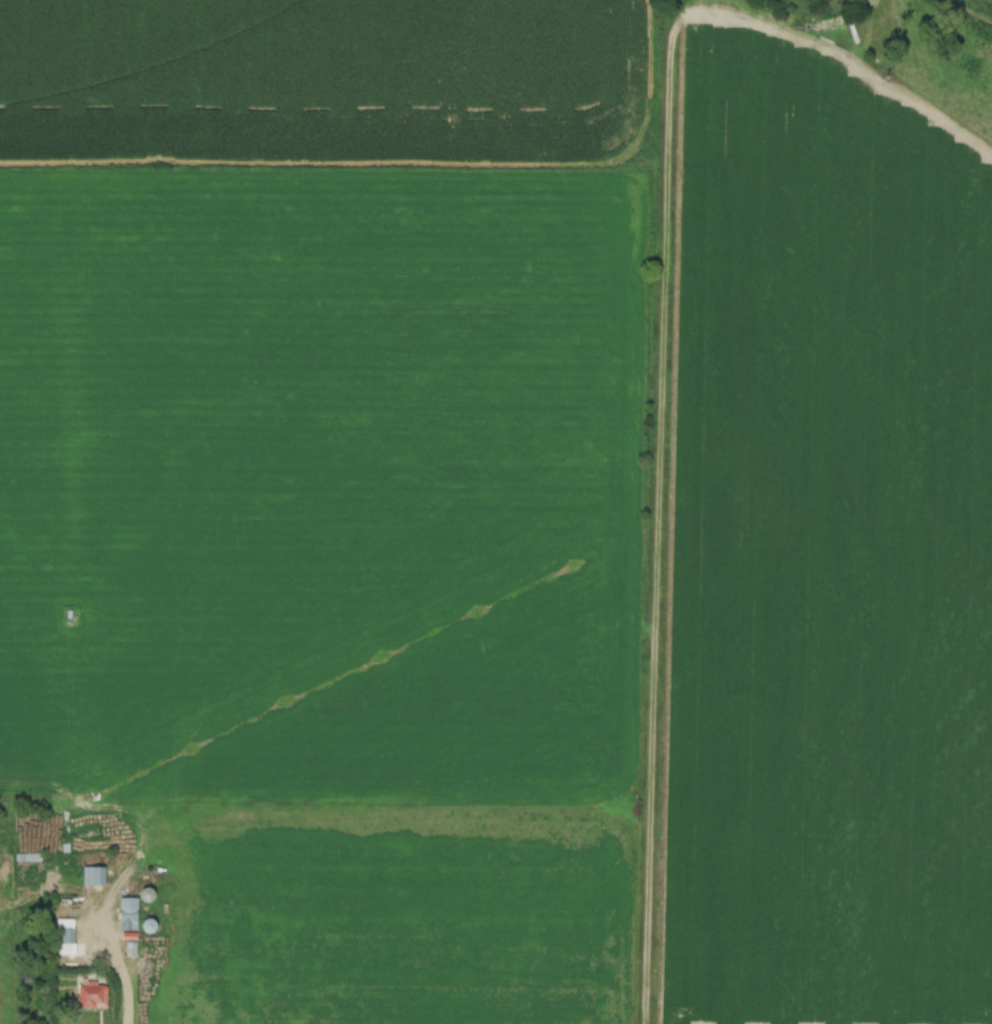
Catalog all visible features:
building: (28, 857)
building: (94, 875)
building: (128, 913)
building: (66, 936)
road: (116, 970)
building: (92, 993)

